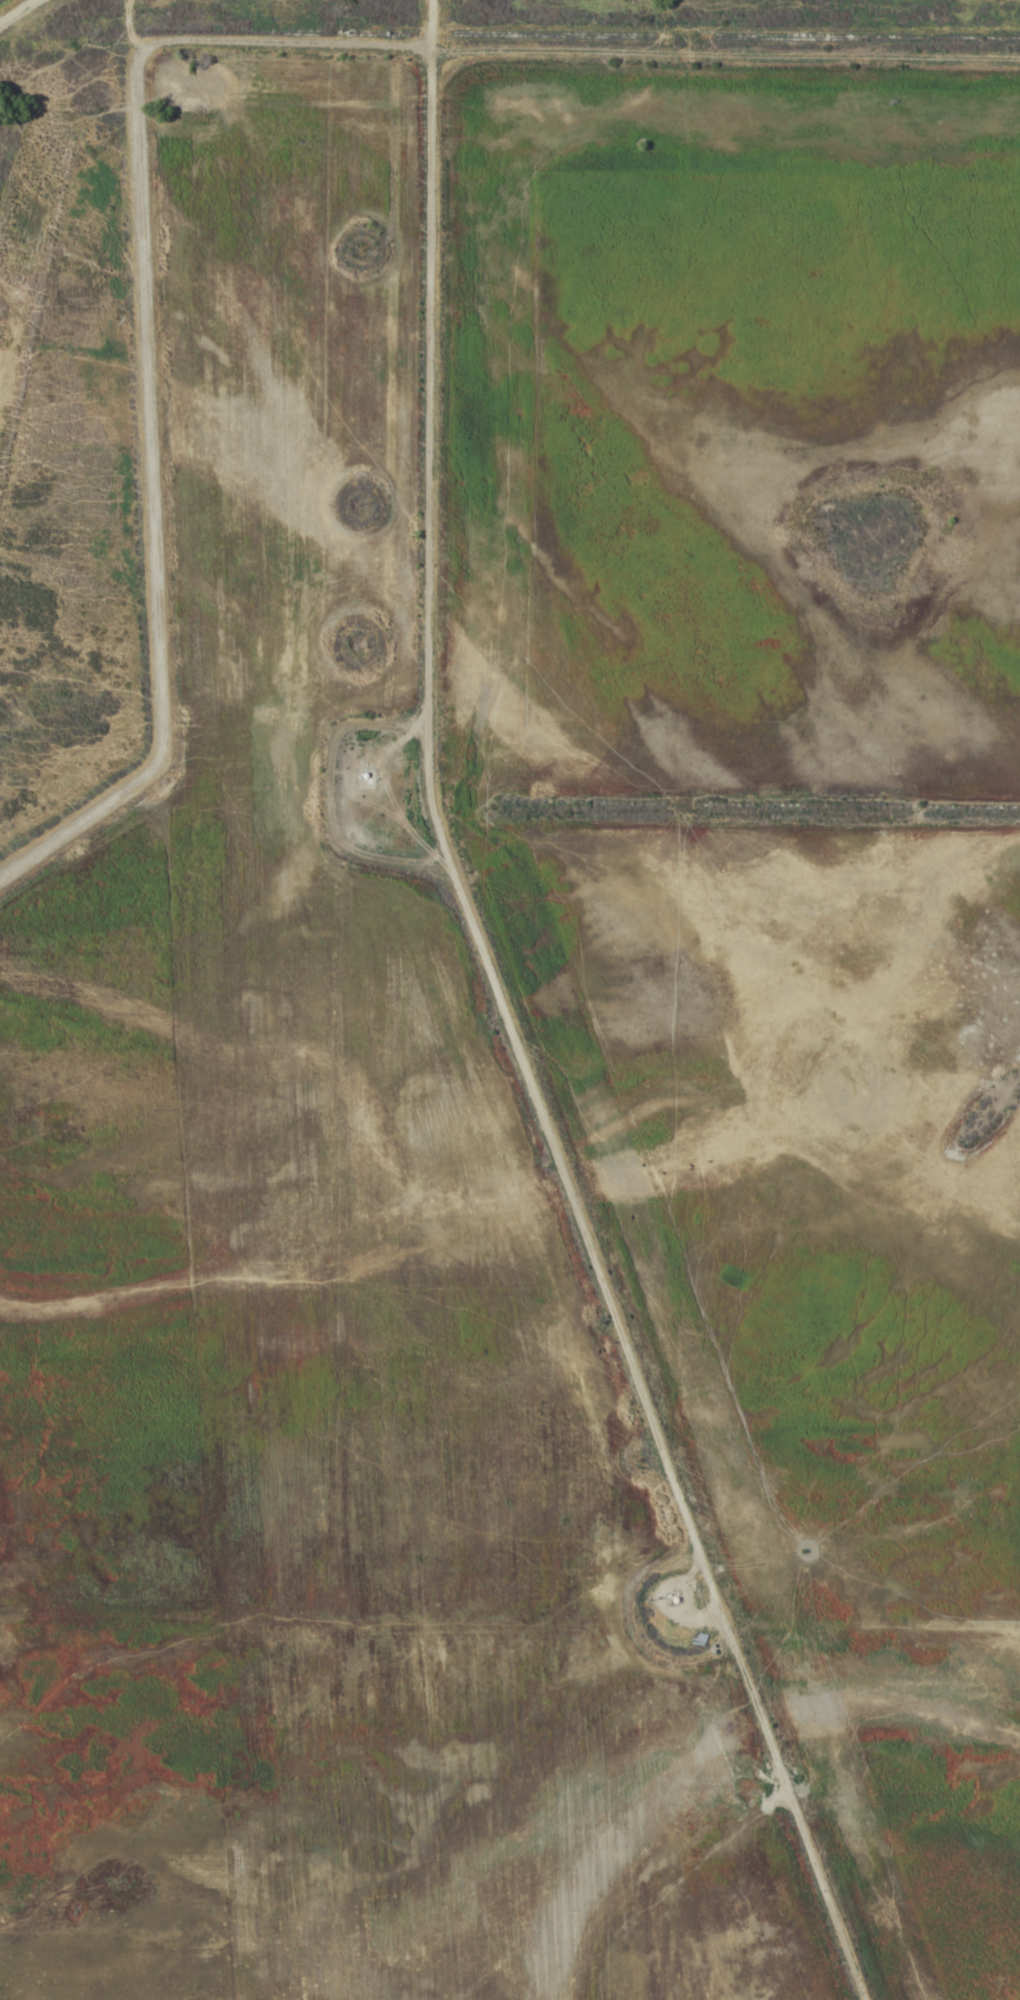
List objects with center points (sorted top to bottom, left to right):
road: (567, 36)

